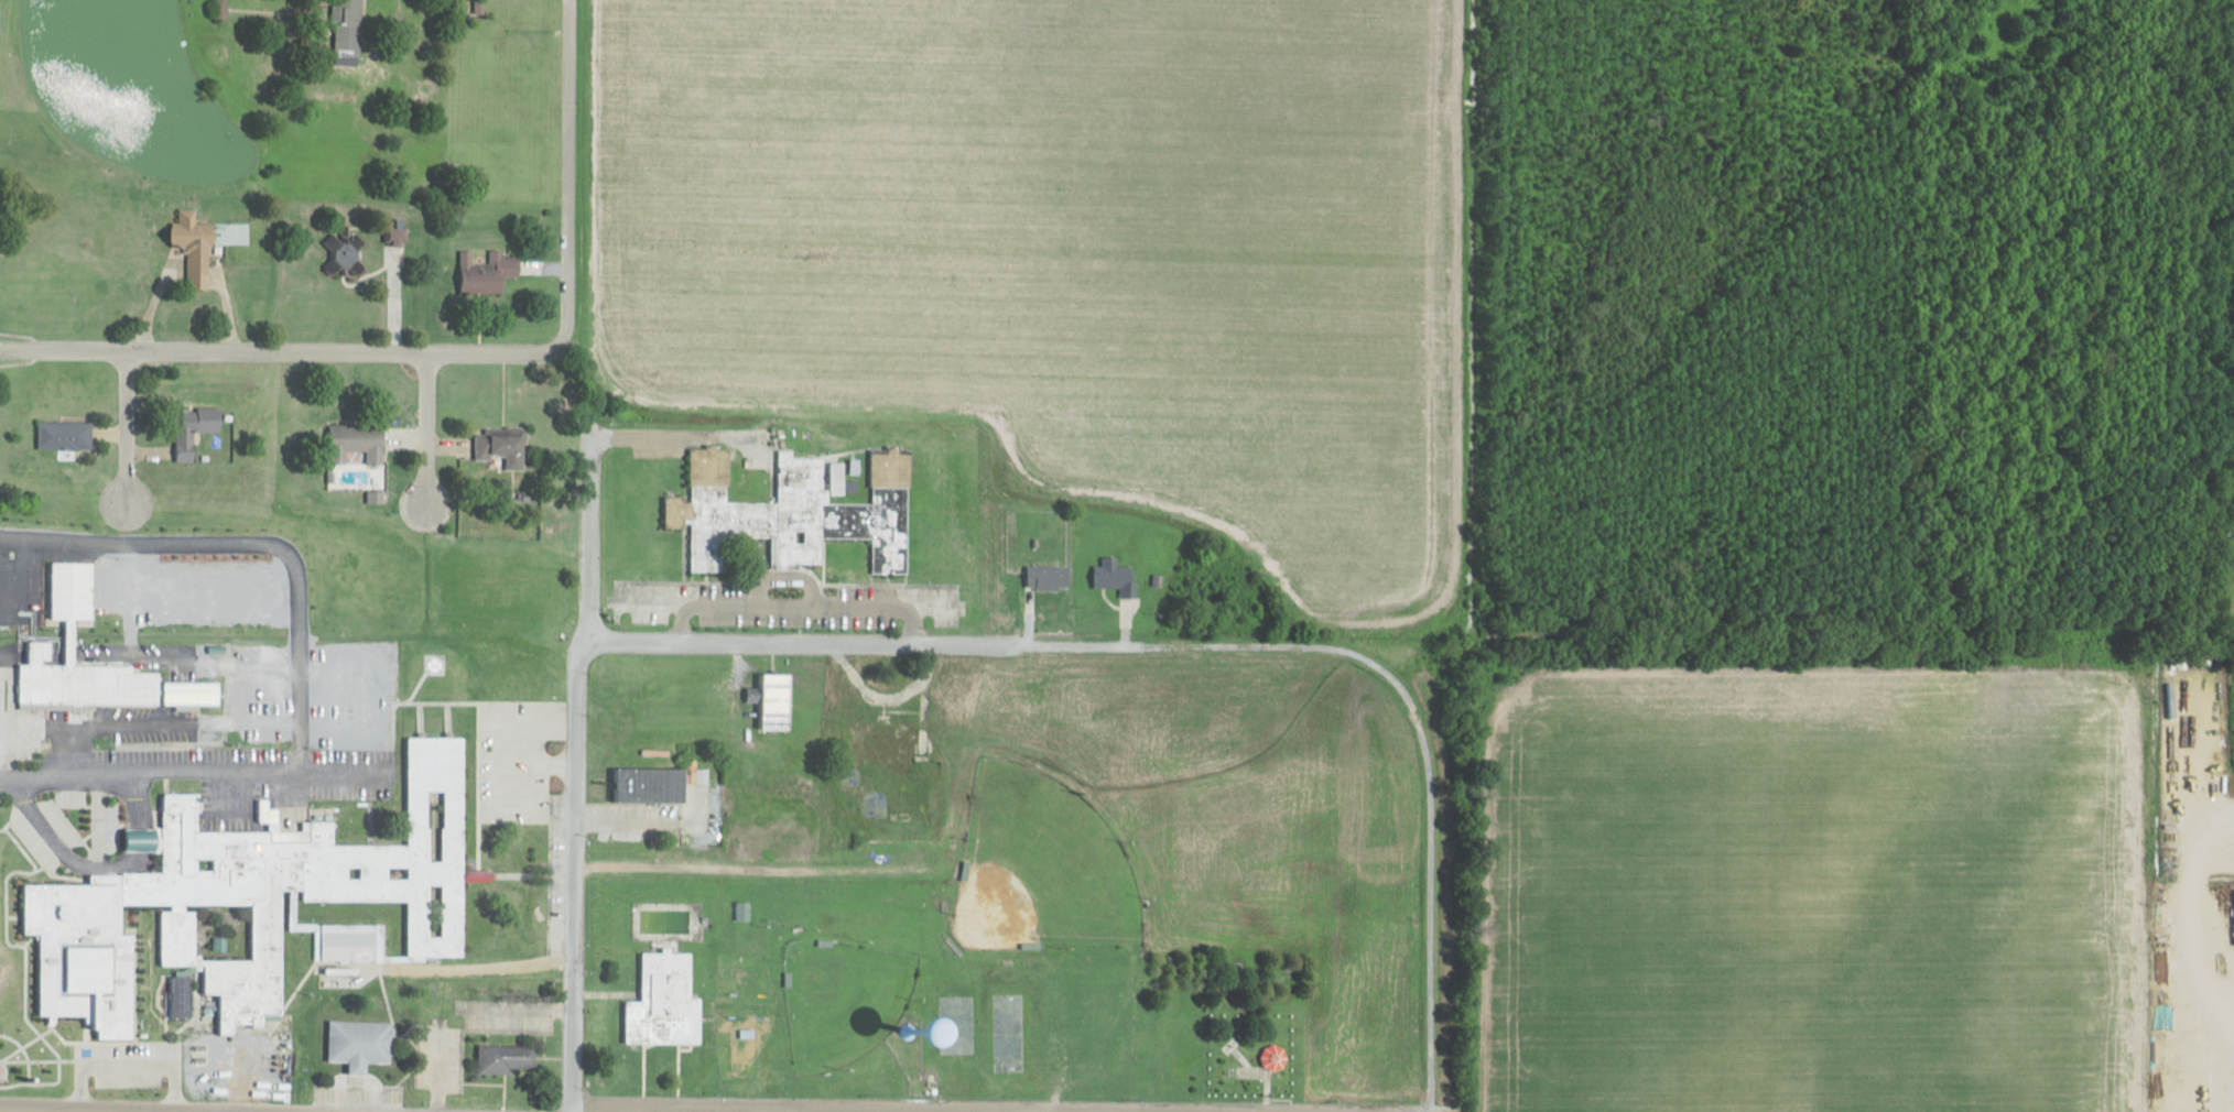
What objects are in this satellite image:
building: (221, 9)
building: (351, 28)
road: (565, 173)
building: (344, 257)
building: (494, 272)
road: (391, 303)
road: (280, 353)
building: (196, 428)
road: (129, 433)
building: (65, 435)
road: (670, 437)
building: (360, 440)
building: (500, 446)
building: (798, 510)
building: (2227, 571)
building: (1116, 576)
building: (1049, 577)
road: (810, 641)
helipad: (432, 662)
building: (109, 685)
building: (776, 701)
building: (885, 741)
road: (523, 765)
road: (192, 771)
road: (570, 772)
building: (651, 785)
road: (88, 864)
park: (1041, 868)
road: (521, 873)
building: (254, 905)
building: (182, 996)
park: (845, 997)
building: (665, 1001)
water tower: (905, 1031)
building: (361, 1043)
building: (1273, 1057)
building: (508, 1059)
road: (116, 1108)
road: (137, 1110)
road: (787, 1110)
road: (792, 1111)

